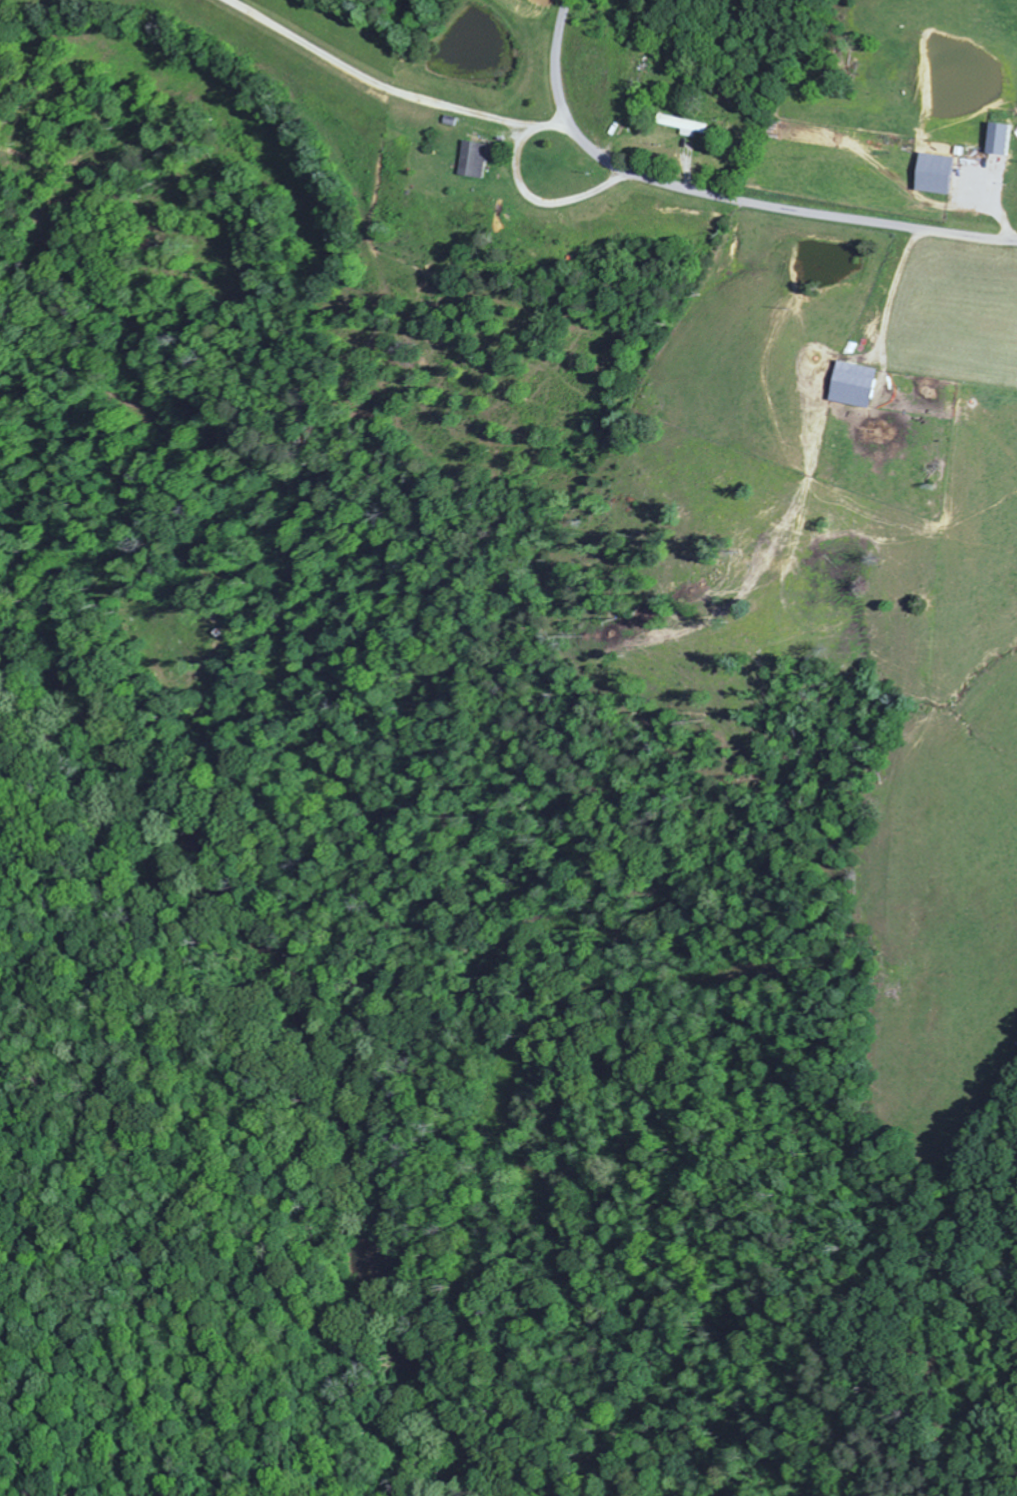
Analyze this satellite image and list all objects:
building: (691, 124)
building: (1005, 138)
building: (481, 158)
building: (944, 173)
road: (722, 195)
building: (863, 384)

